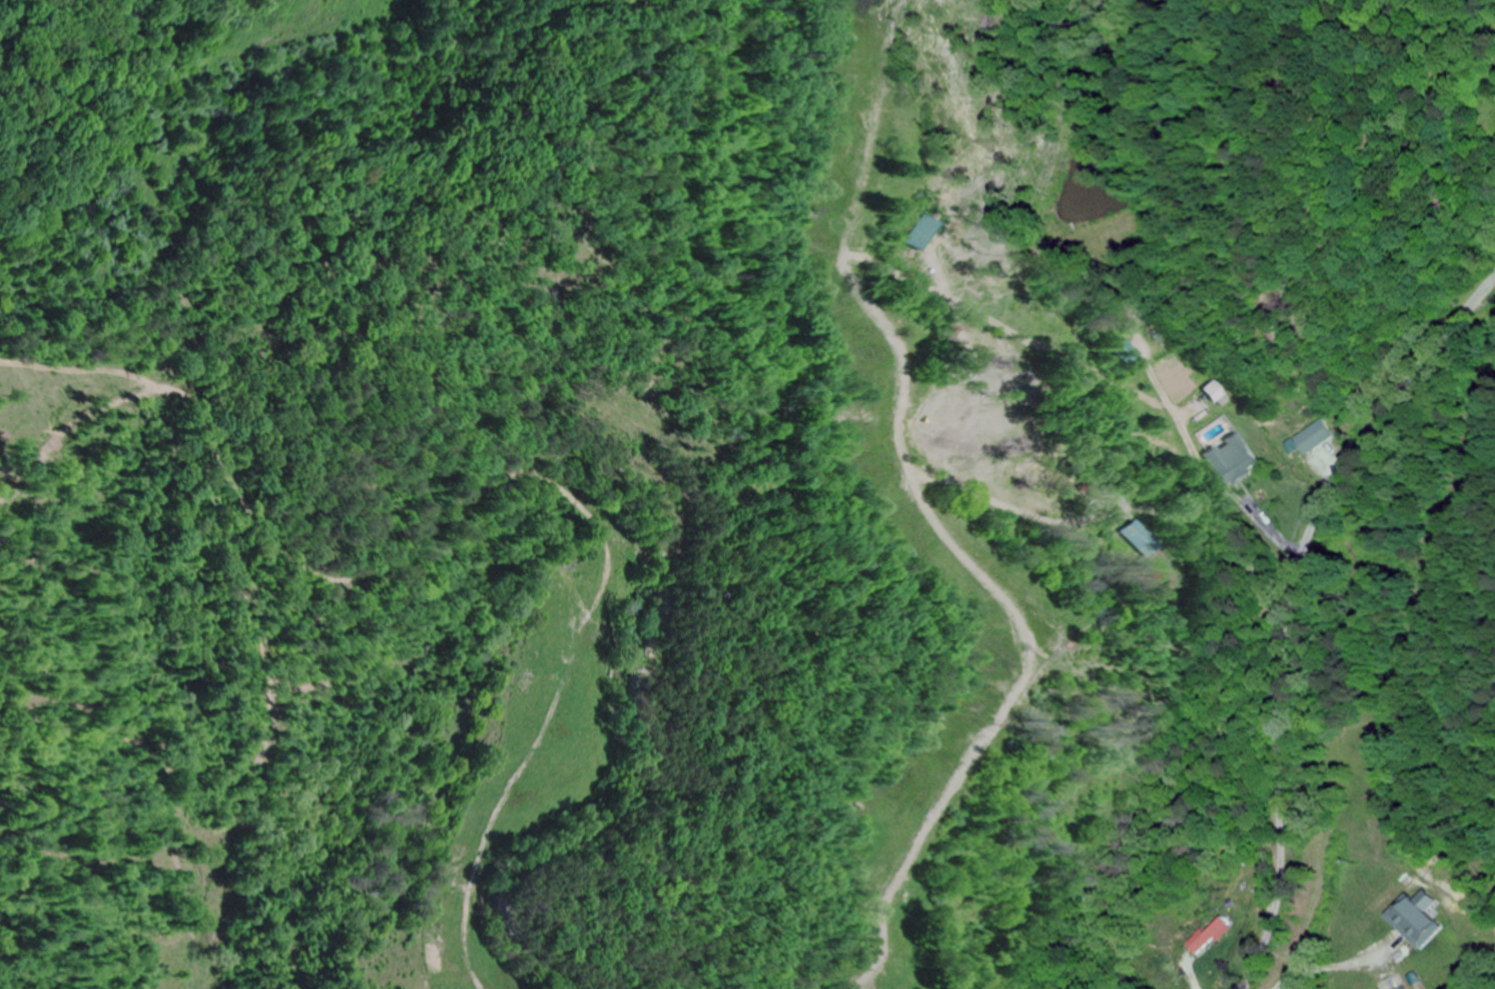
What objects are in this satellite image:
building: (1312, 439)
road: (1293, 603)
building: (1209, 937)

